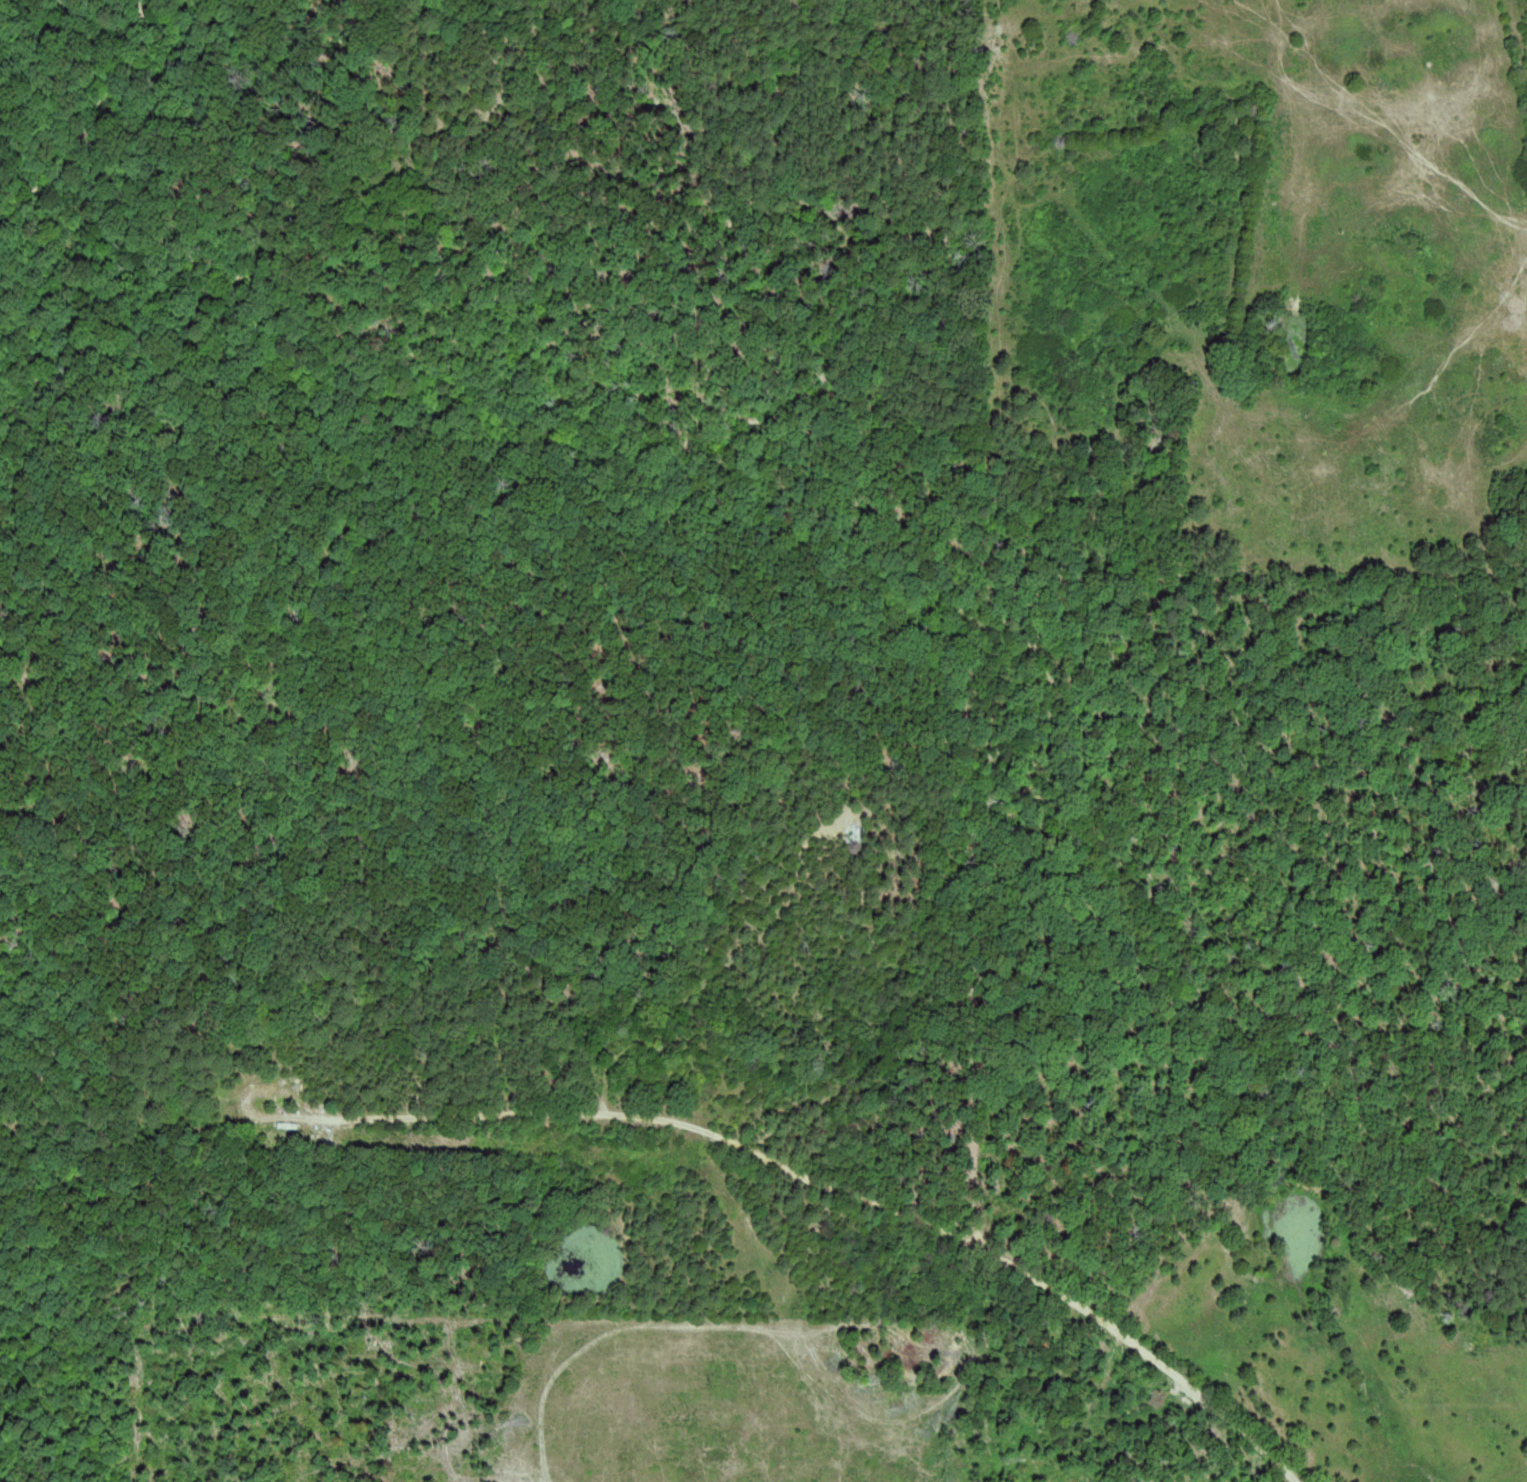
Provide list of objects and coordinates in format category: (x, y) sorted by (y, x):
road: (979, 543)
road: (706, 1087)

